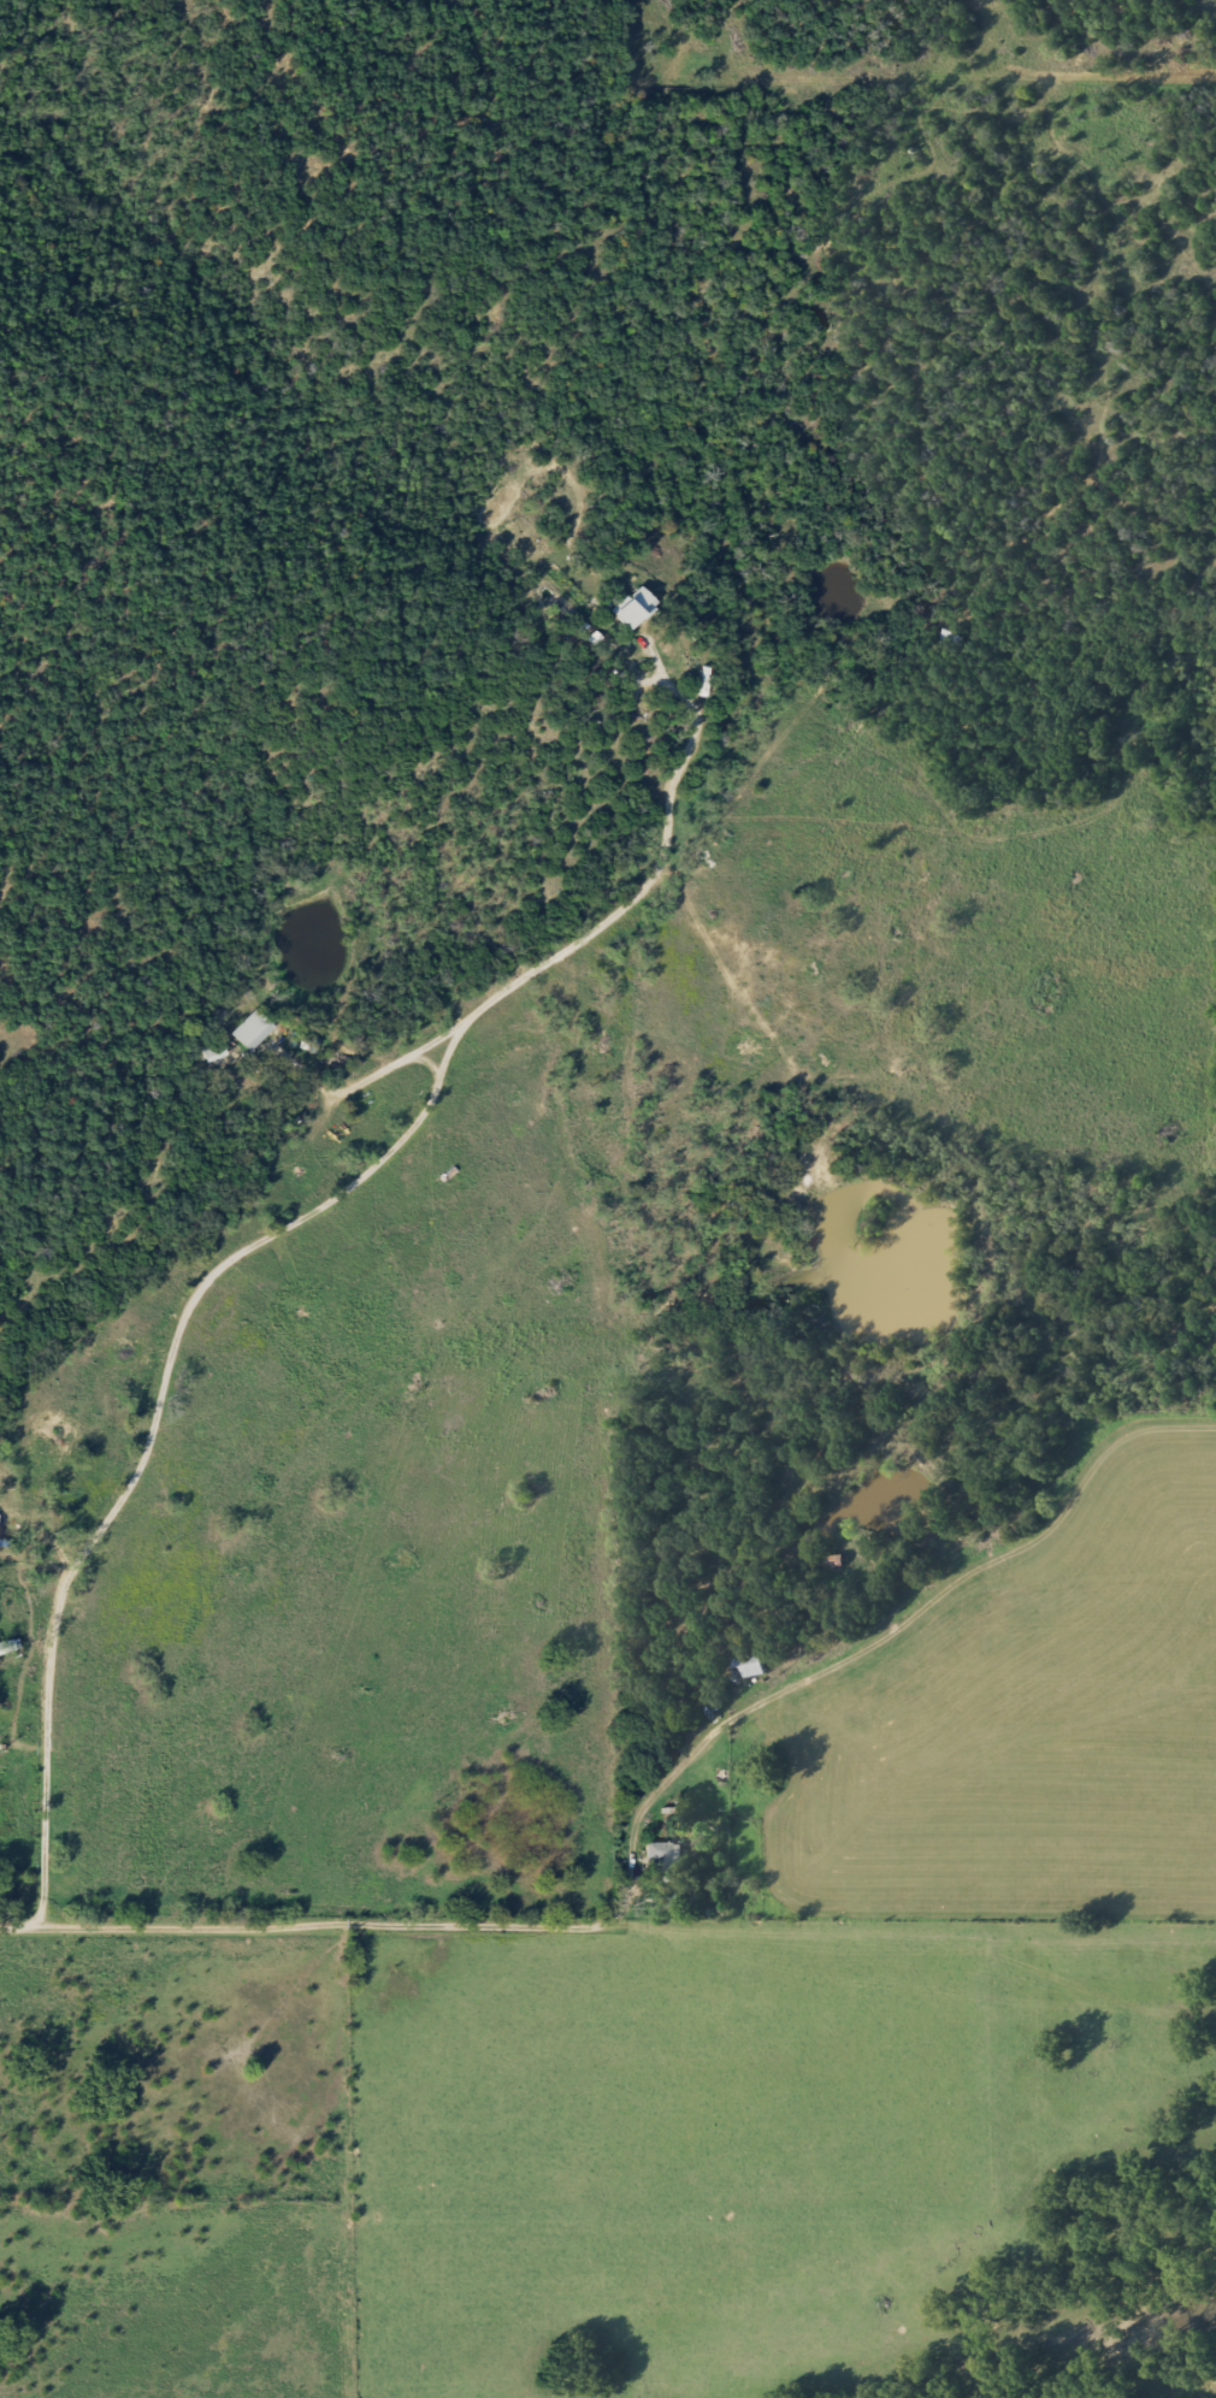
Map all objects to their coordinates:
building: (628, 607)
building: (247, 1029)
building: (209, 1052)
building: (7, 1646)
building: (745, 1665)
road: (43, 1756)
building: (661, 1859)
building: (681, 1897)
road: (592, 1925)

